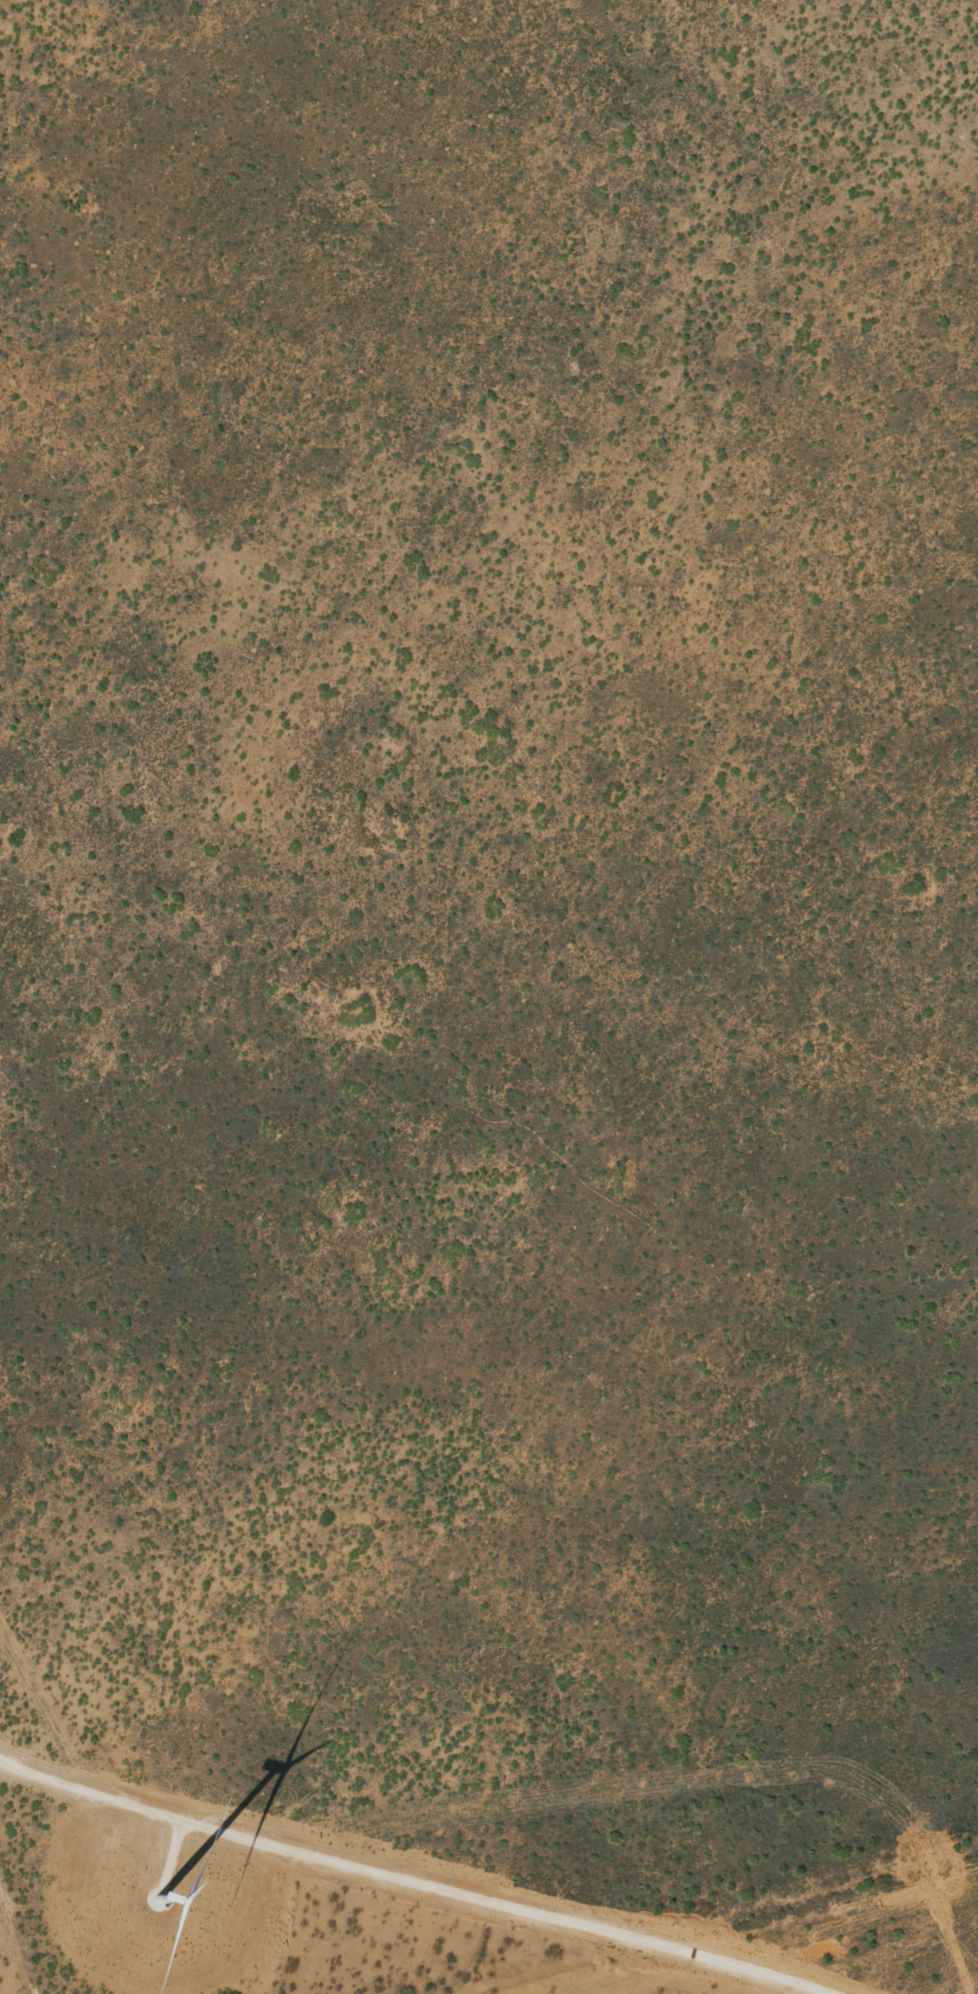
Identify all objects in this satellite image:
wind turbine: (164, 1901)

